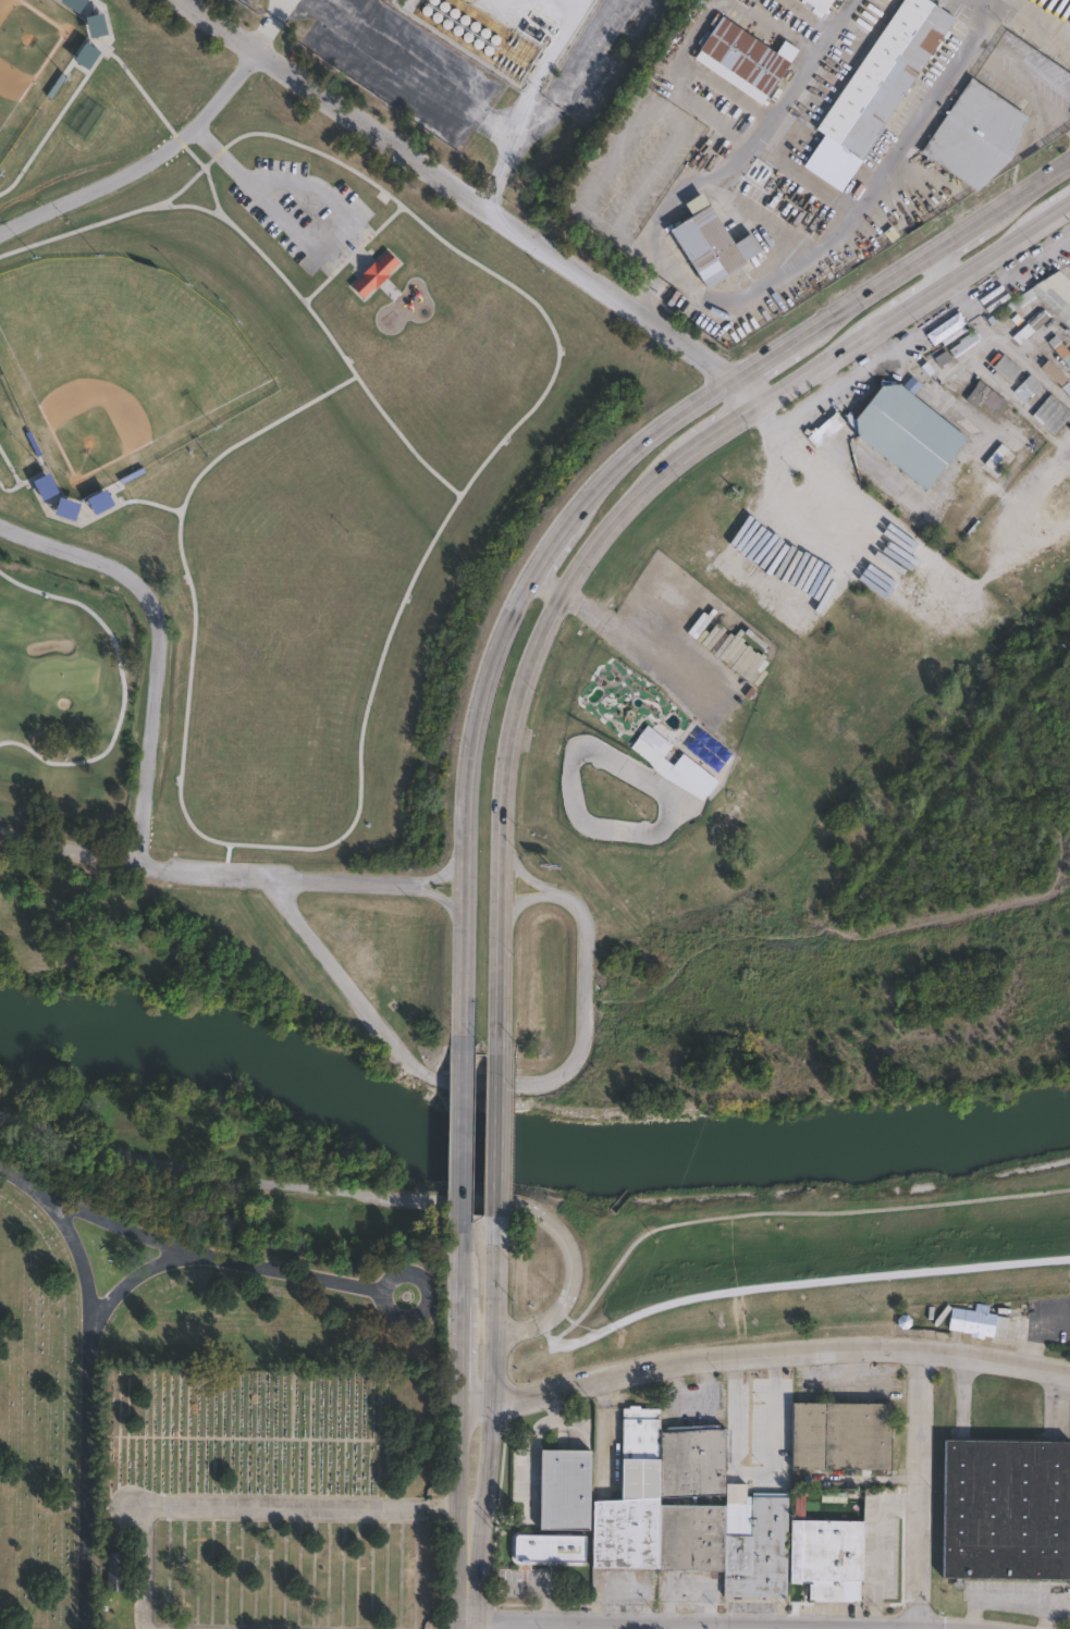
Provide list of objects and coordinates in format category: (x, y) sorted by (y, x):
building: (821, 4)
road: (987, 8)
road: (108, 21)
building: (95, 25)
road: (828, 29)
park: (29, 54)
building: (85, 54)
building: (746, 57)
road: (101, 58)
building: (877, 90)
road: (1030, 97)
road: (288, 125)
building: (977, 135)
road: (147, 169)
road: (192, 173)
road: (459, 188)
road: (1049, 217)
building: (712, 244)
road: (946, 245)
road: (321, 247)
road: (992, 256)
road: (944, 267)
road: (515, 270)
building: (373, 274)
road: (960, 293)
building: (1046, 295)
road: (905, 311)
building: (1030, 326)
building: (964, 343)
road: (905, 346)
building: (1058, 346)
park: (122, 351)
road: (780, 351)
building: (1006, 368)
road: (809, 371)
building: (1054, 372)
road: (357, 374)
building: (1029, 386)
road: (751, 390)
building: (985, 397)
building: (1050, 414)
park: (273, 421)
road: (717, 432)
building: (906, 432)
road: (650, 434)
building: (996, 456)
road: (27, 473)
building: (46, 486)
building: (100, 501)
building: (66, 508)
road: (773, 513)
road: (553, 543)
road: (546, 585)
road: (638, 647)
park: (63, 699)
road: (153, 706)
road: (507, 733)
building: (656, 741)
building: (696, 775)
road: (468, 803)
road: (358, 807)
road: (71, 848)
road: (444, 868)
road: (524, 874)
road: (344, 880)
park: (802, 896)
road: (444, 902)
road: (519, 902)
river: (245, 1058)
road: (469, 1083)
road: (463, 1131)
road: (501, 1139)
river: (772, 1147)
road: (258, 1165)
road: (709, 1217)
road: (194, 1254)
road: (462, 1264)
road: (497, 1275)
road: (773, 1281)
road: (94, 1304)
road: (565, 1313)
building: (979, 1323)
road: (522, 1328)
road: (460, 1353)
road: (763, 1357)
park: (211, 1410)
road: (731, 1411)
road: (771, 1431)
building: (843, 1435)
road: (93, 1474)
road: (488, 1479)
road: (923, 1489)
building: (561, 1491)
road: (205, 1504)
building: (1006, 1509)
building: (691, 1511)
road: (457, 1514)
road: (873, 1539)
building: (549, 1547)
building: (829, 1558)
building: (114, 1570)
road: (759, 1625)

